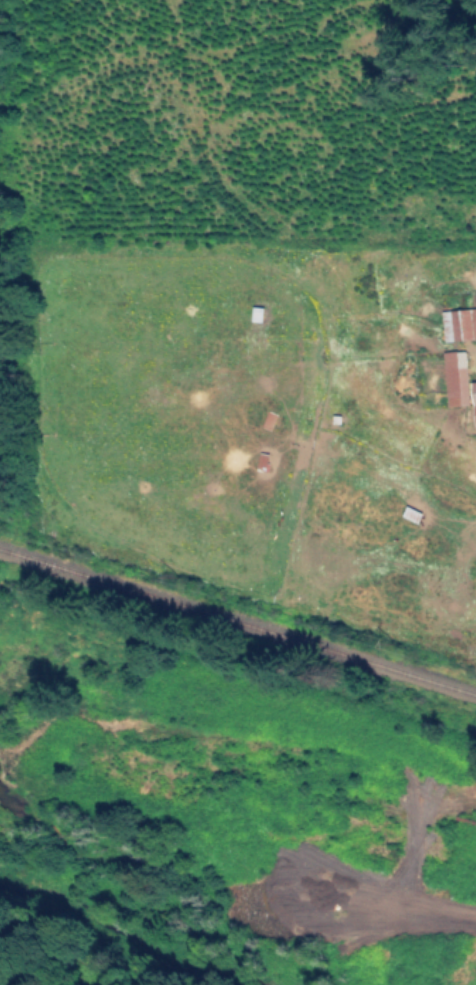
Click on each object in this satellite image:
building: (458, 323)
building: (454, 377)
building: (473, 400)
building: (260, 460)
railway: (238, 627)

